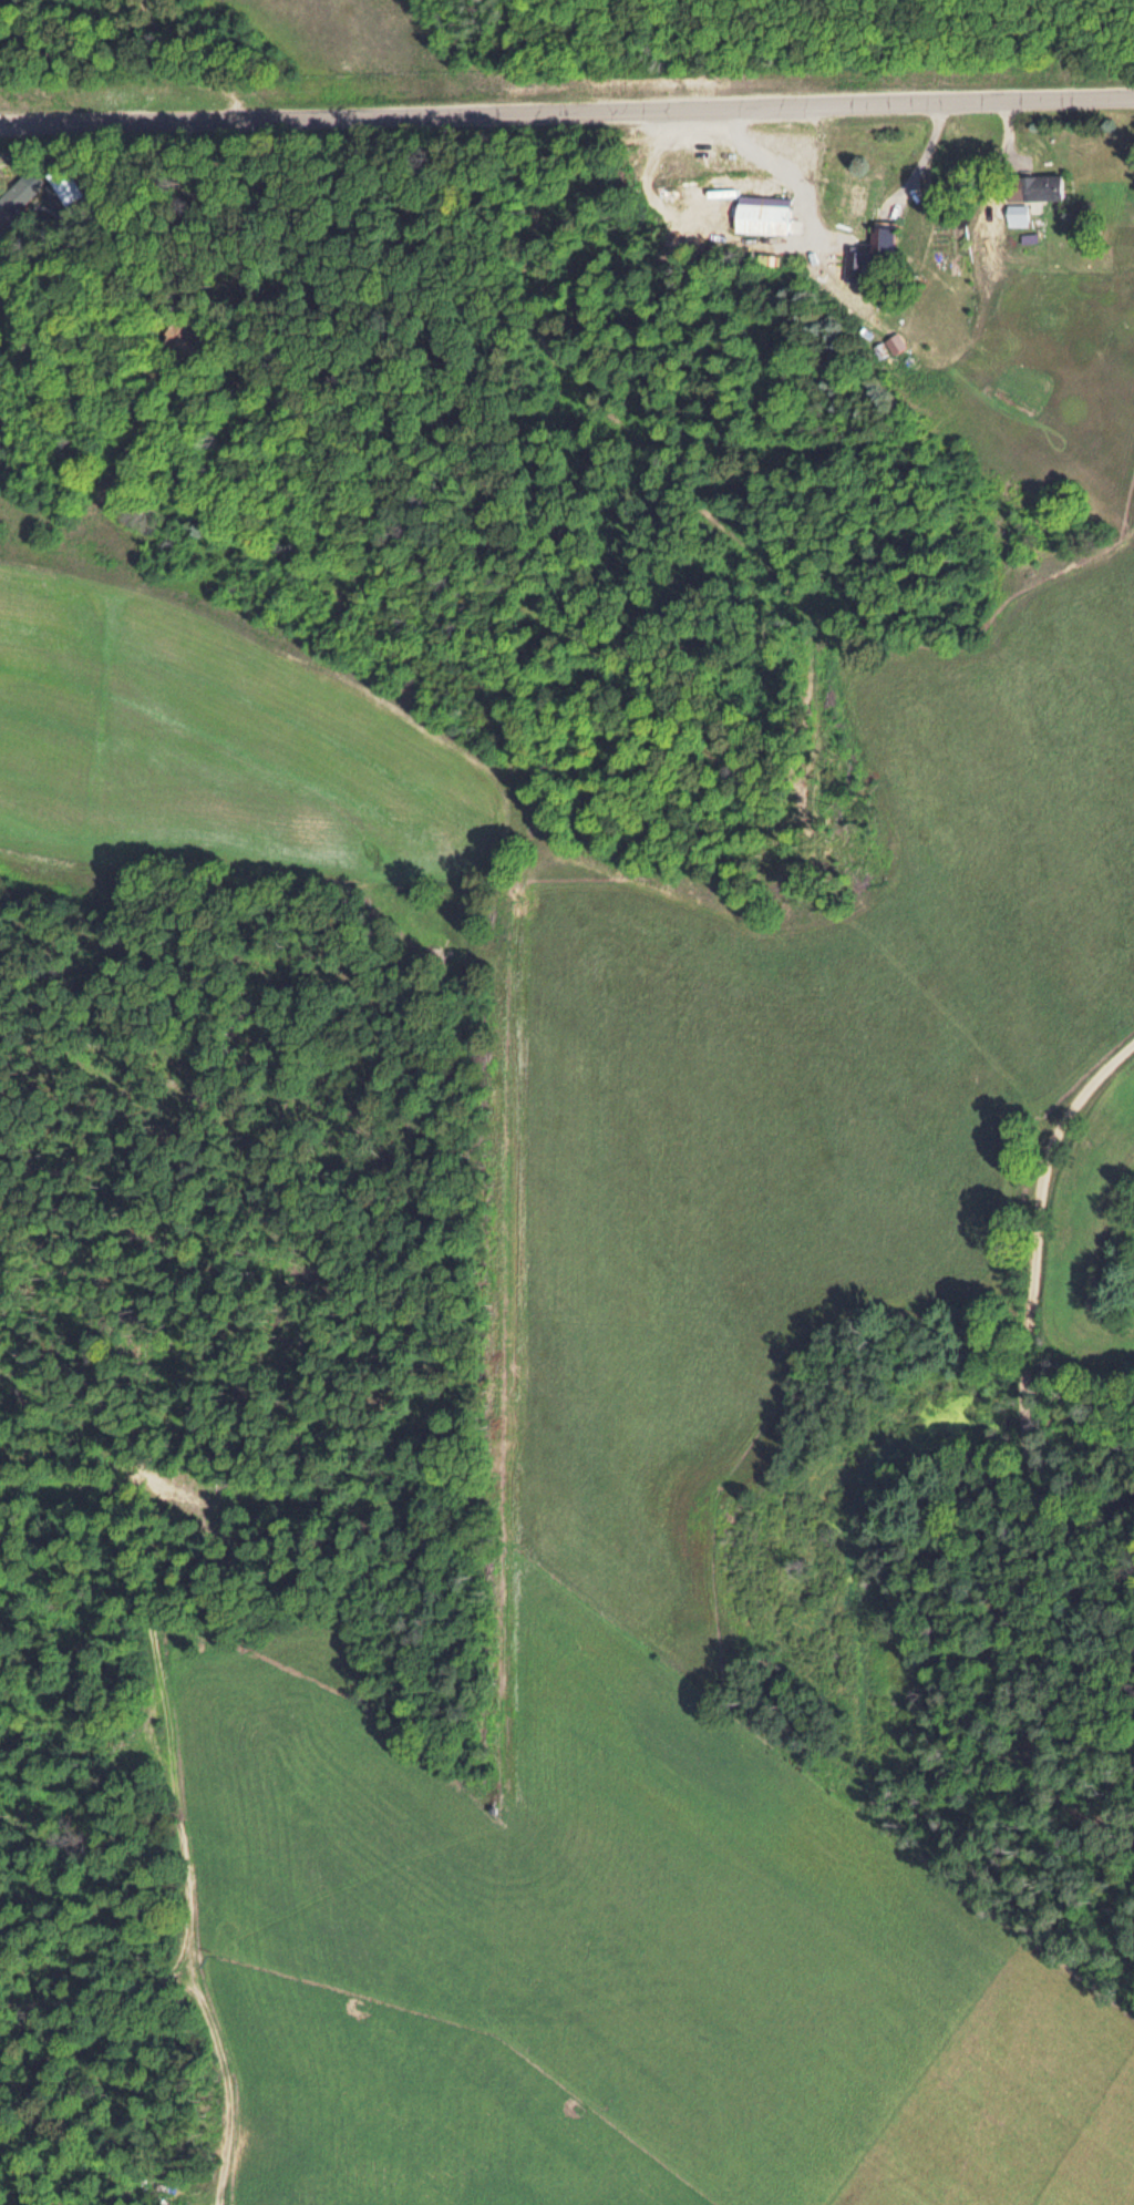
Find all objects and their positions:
road: (567, 107)
building: (59, 183)
building: (1032, 186)
building: (17, 194)
building: (761, 213)
building: (1016, 214)
building: (879, 239)
building: (178, 335)
road: (1030, 1316)
road: (140, 1508)
road: (187, 1972)

